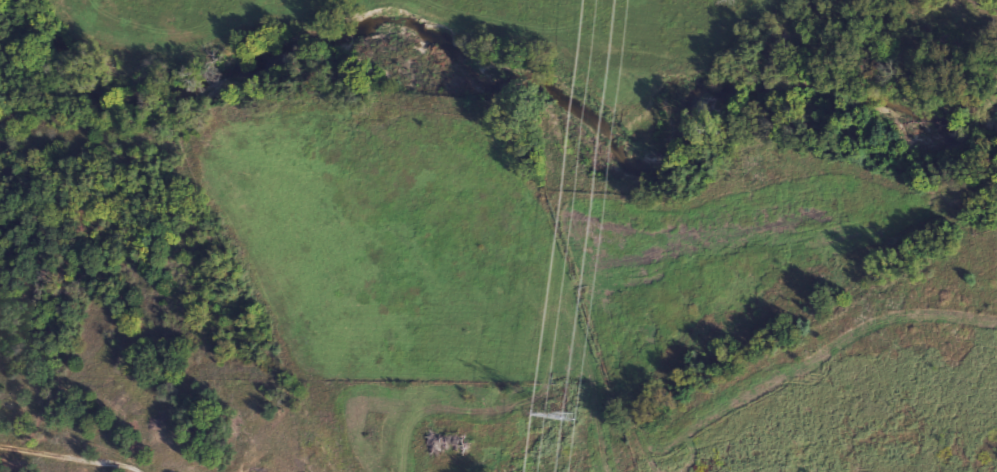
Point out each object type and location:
power tower: (562, 418)

